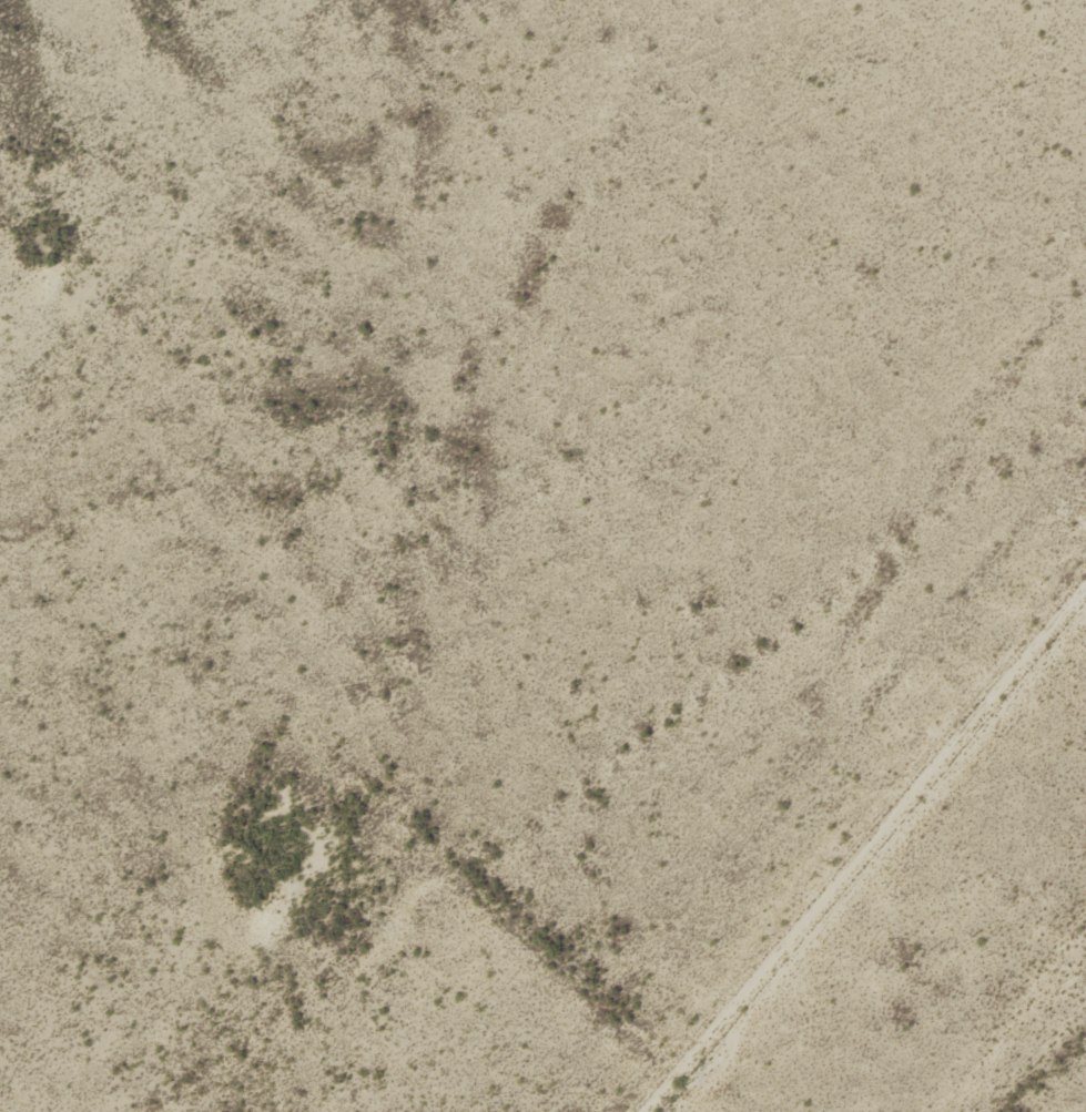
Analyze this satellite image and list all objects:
road: (872, 855)

